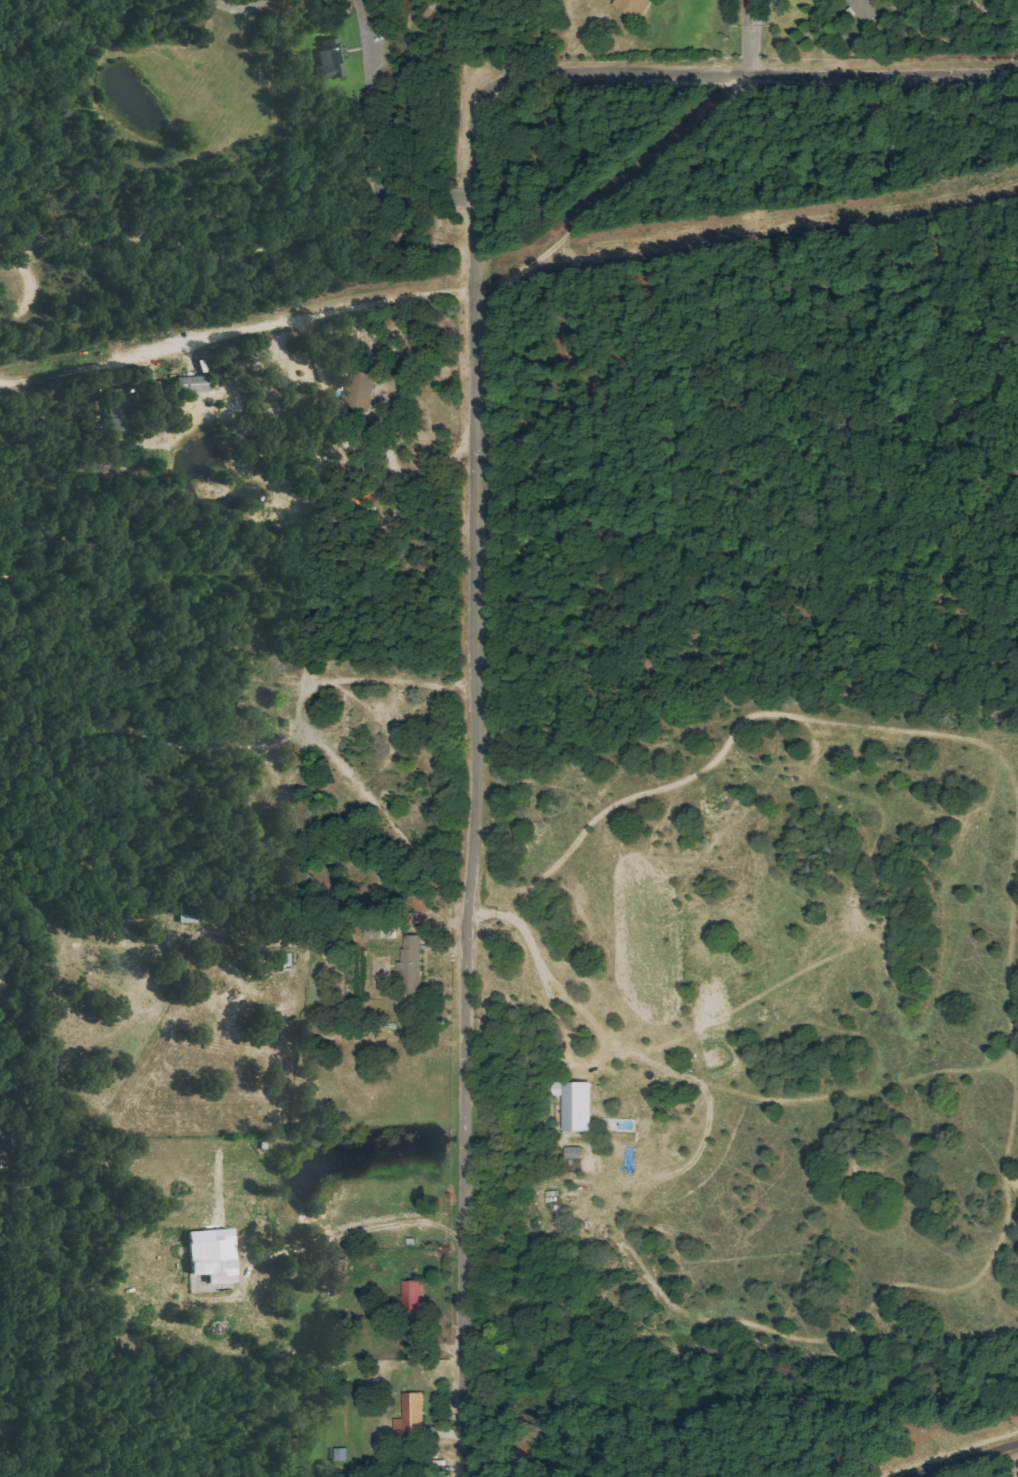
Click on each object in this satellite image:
building: (635, 5)
building: (867, 10)
road: (750, 35)
building: (331, 58)
road: (310, 319)
building: (193, 384)
building: (365, 387)
building: (118, 409)
road: (473, 516)
building: (413, 955)
building: (579, 1104)
building: (576, 1152)
building: (225, 1249)
building: (417, 1303)
building: (414, 1416)
road: (964, 1459)

